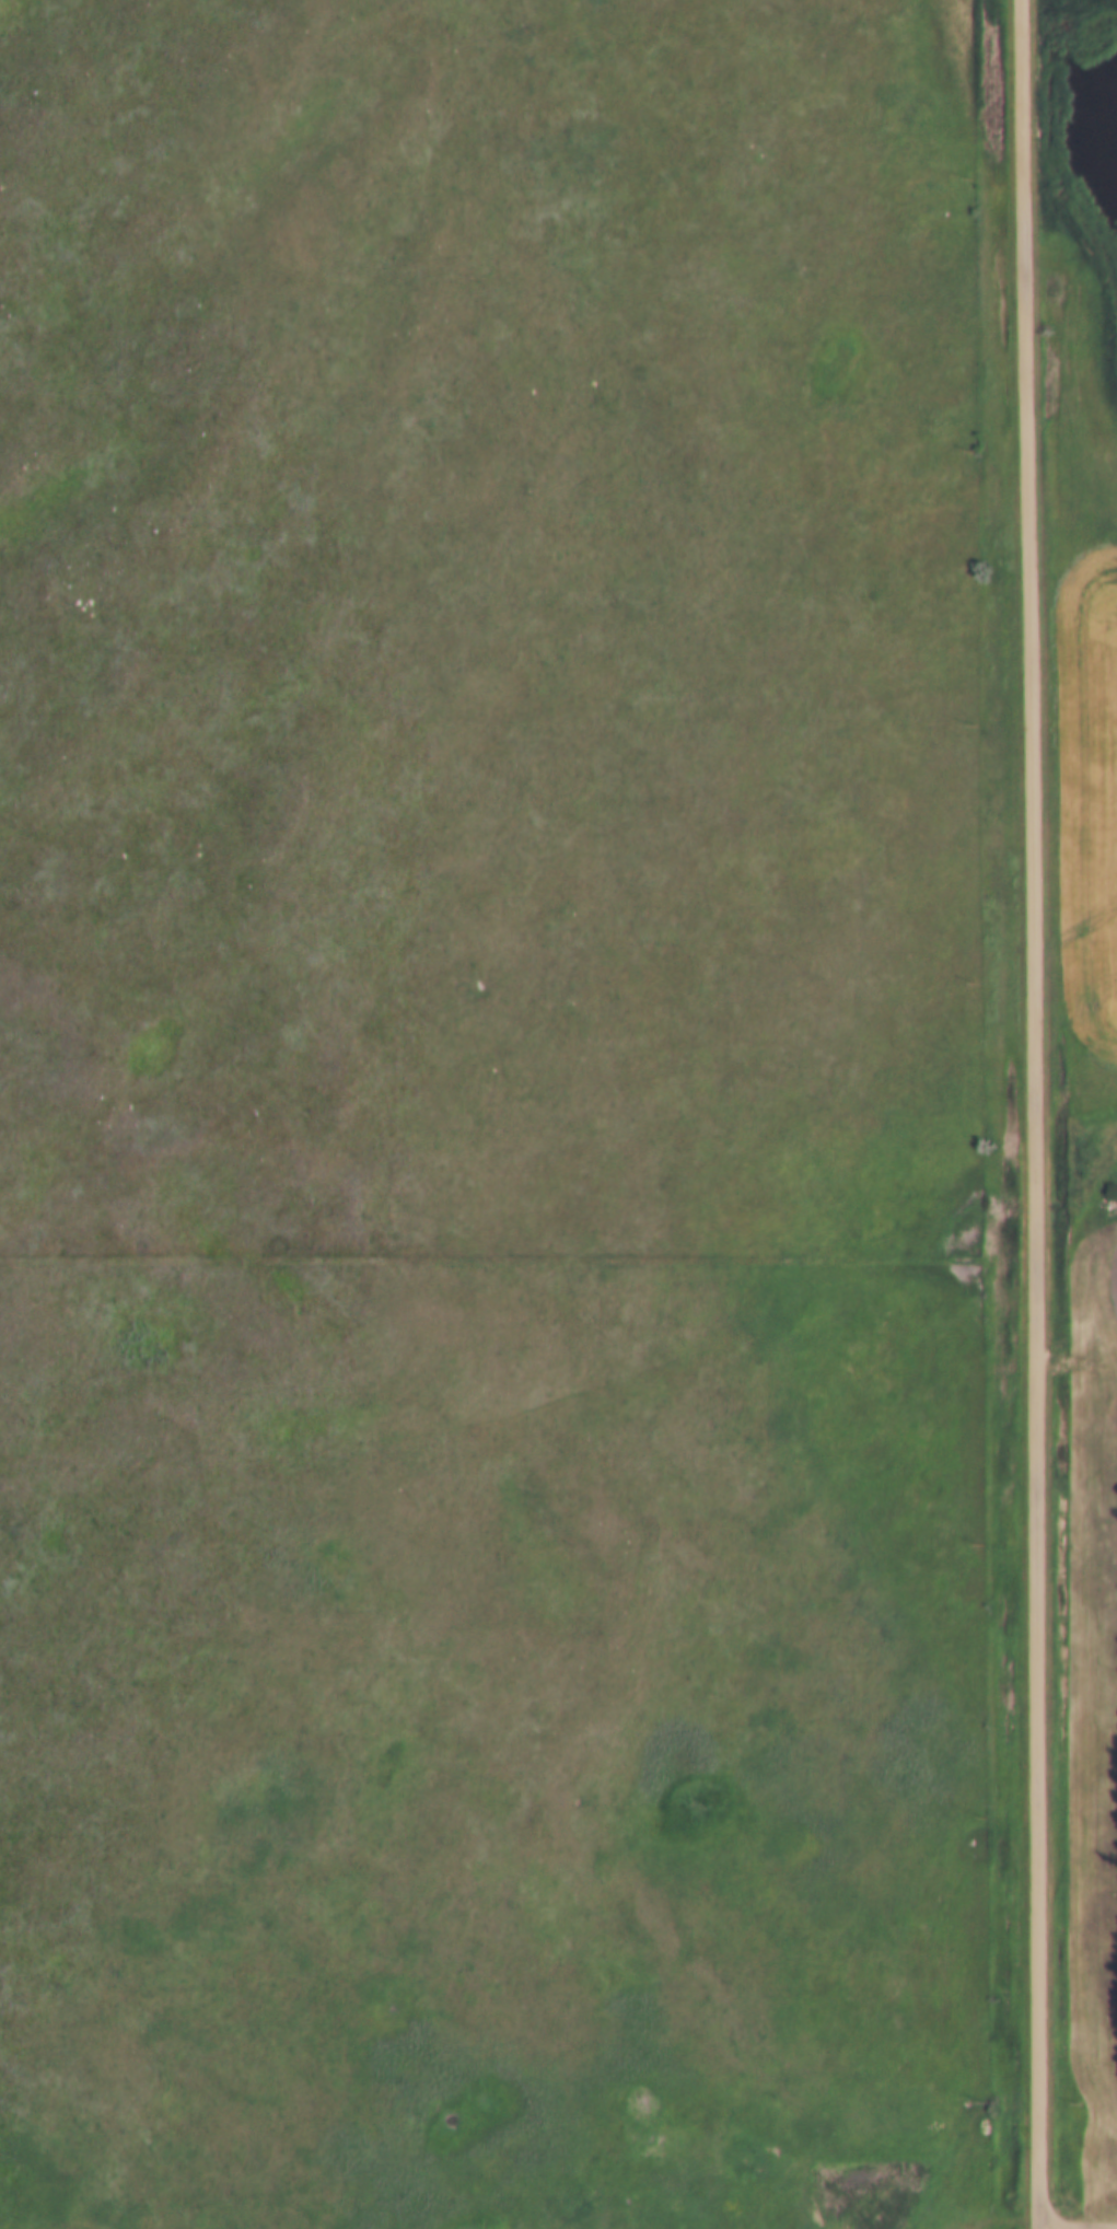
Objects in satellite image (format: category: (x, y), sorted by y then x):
road: (1034, 1114)

